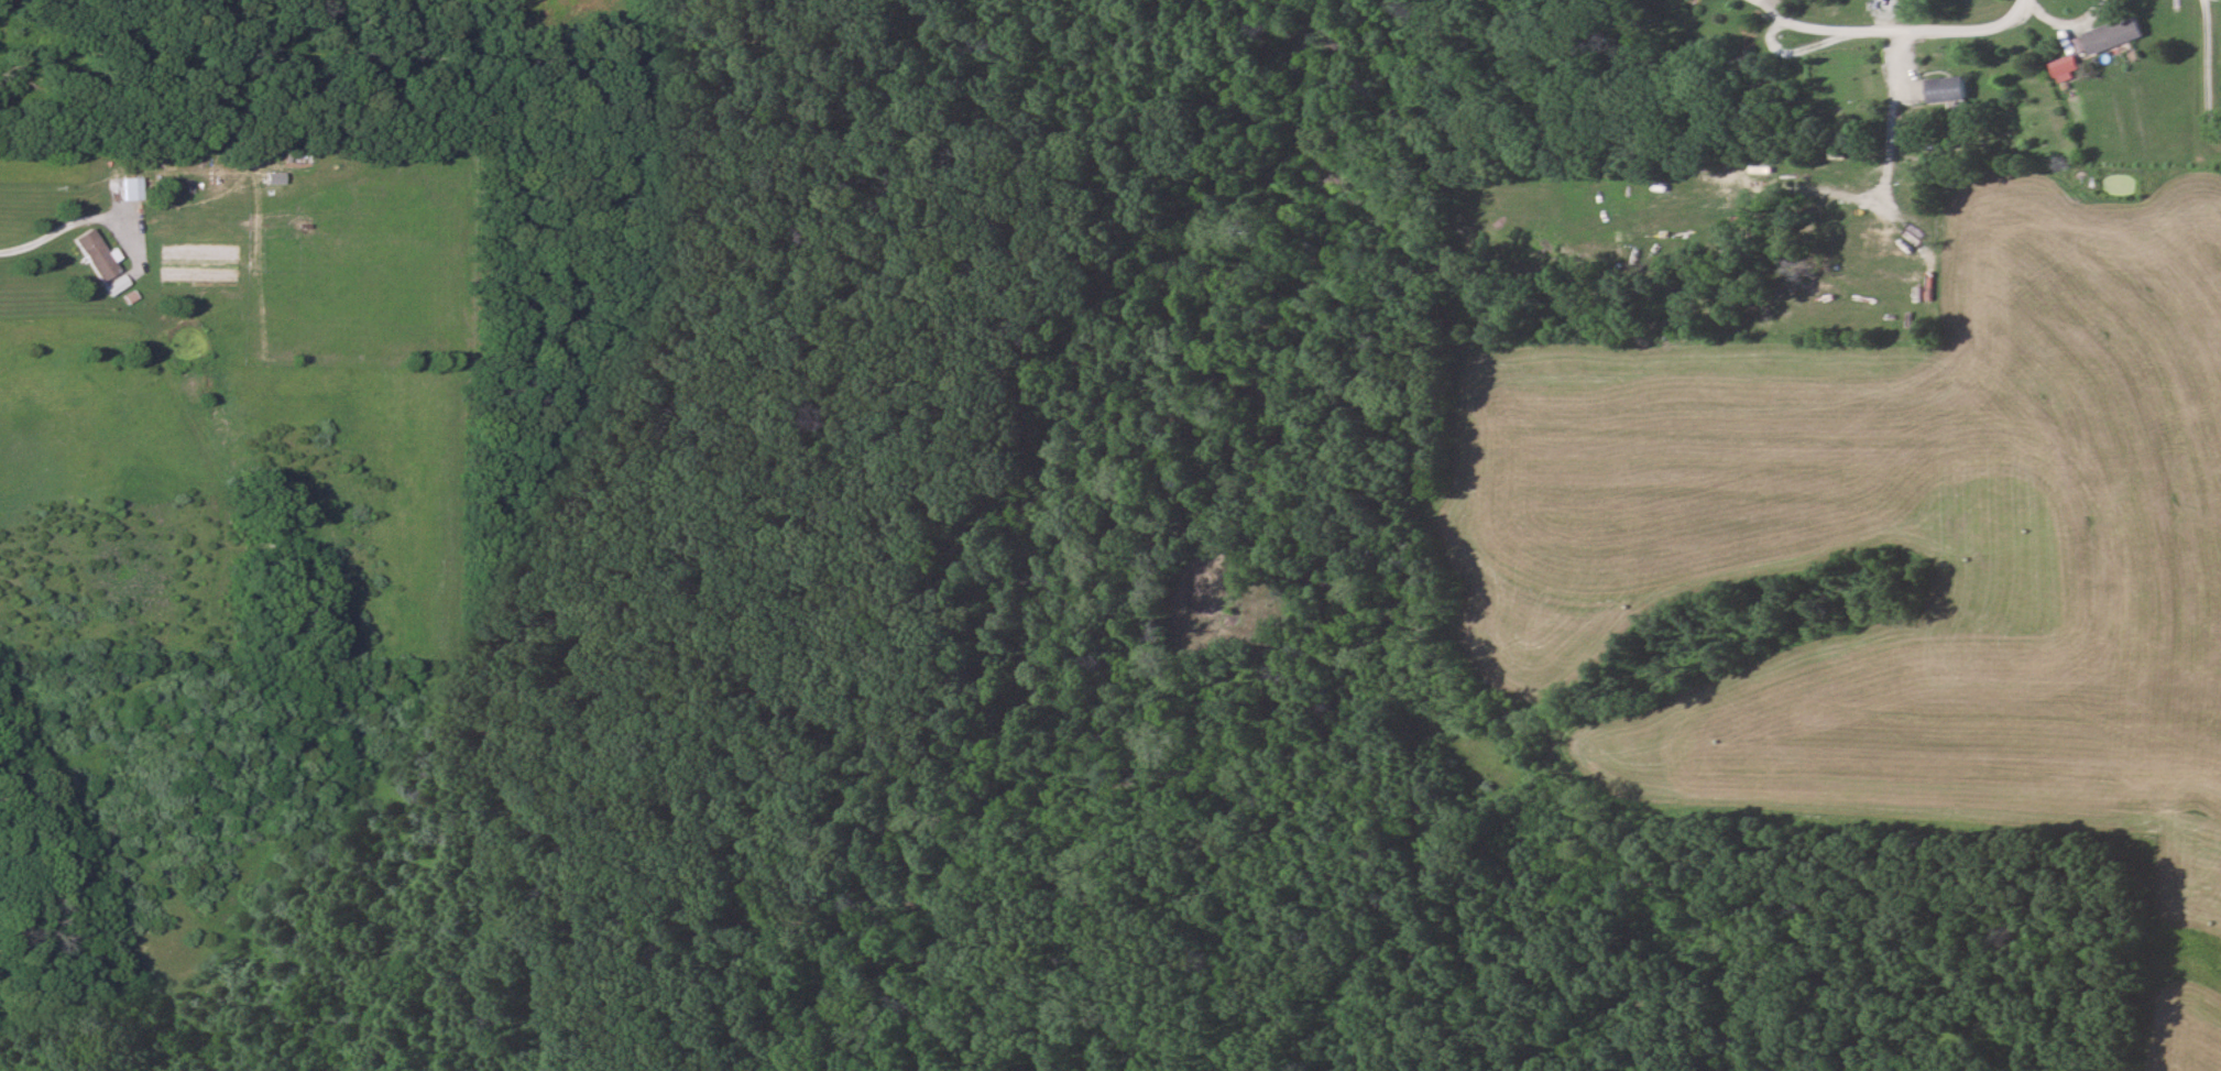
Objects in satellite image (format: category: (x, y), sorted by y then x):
road: (2056, 17)
road: (1903, 22)
building: (2113, 35)
road: (2204, 68)
building: (1946, 88)
building: (129, 188)
road: (14, 248)
building: (90, 254)

